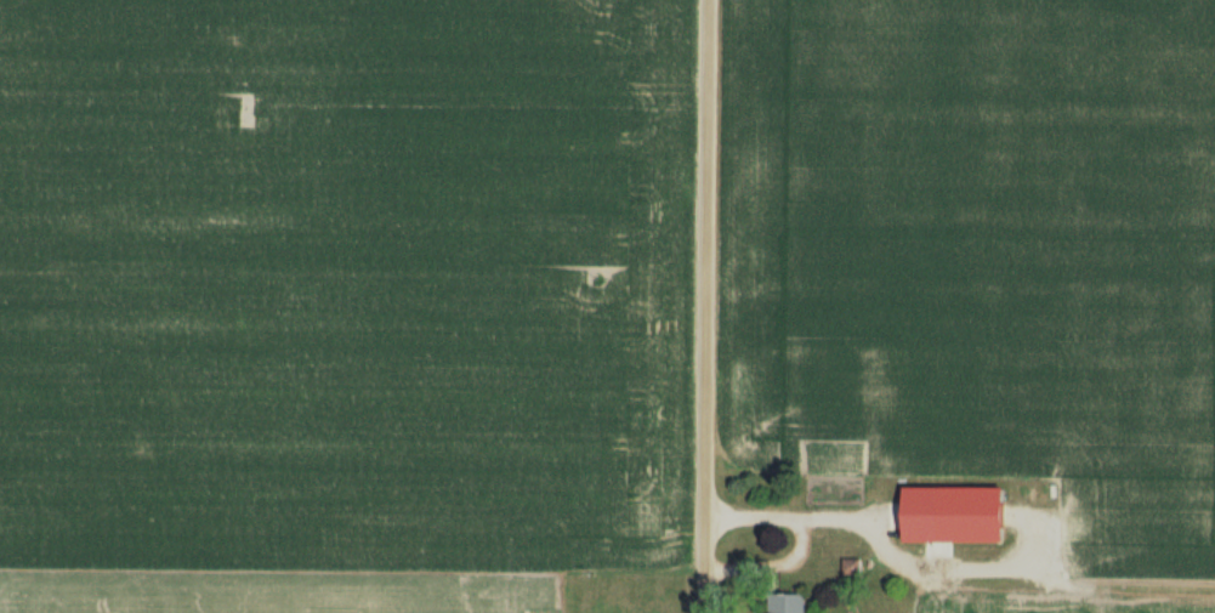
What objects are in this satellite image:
road: (706, 306)
road: (816, 517)
building: (790, 603)

